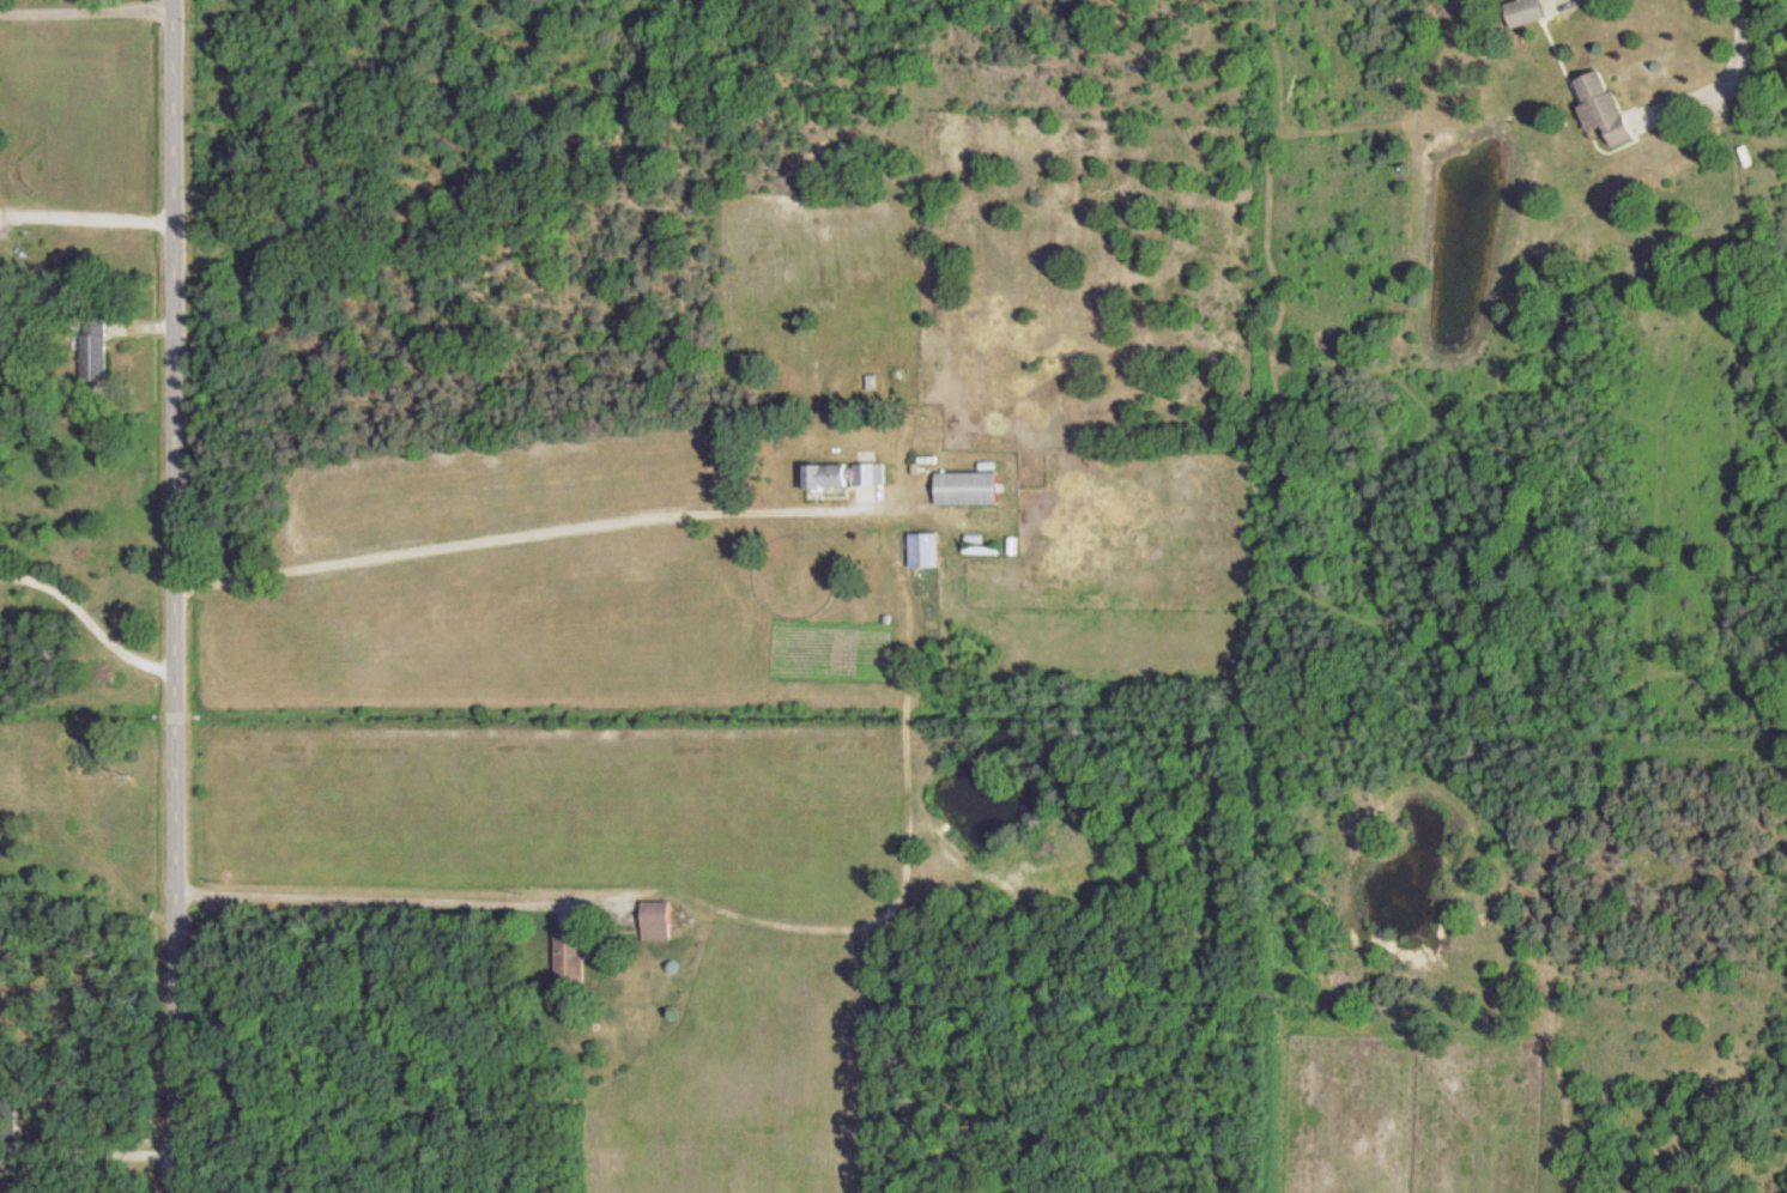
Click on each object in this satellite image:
road: (83, 7)
building: (1522, 12)
road: (1731, 77)
building: (1600, 108)
road: (84, 211)
building: (0, 310)
building: (95, 357)
building: (847, 474)
building: (971, 488)
road: (529, 533)
building: (926, 550)
road: (166, 596)
road: (85, 614)
road: (367, 894)
building: (659, 919)
building: (573, 956)
road: (86, 1144)

